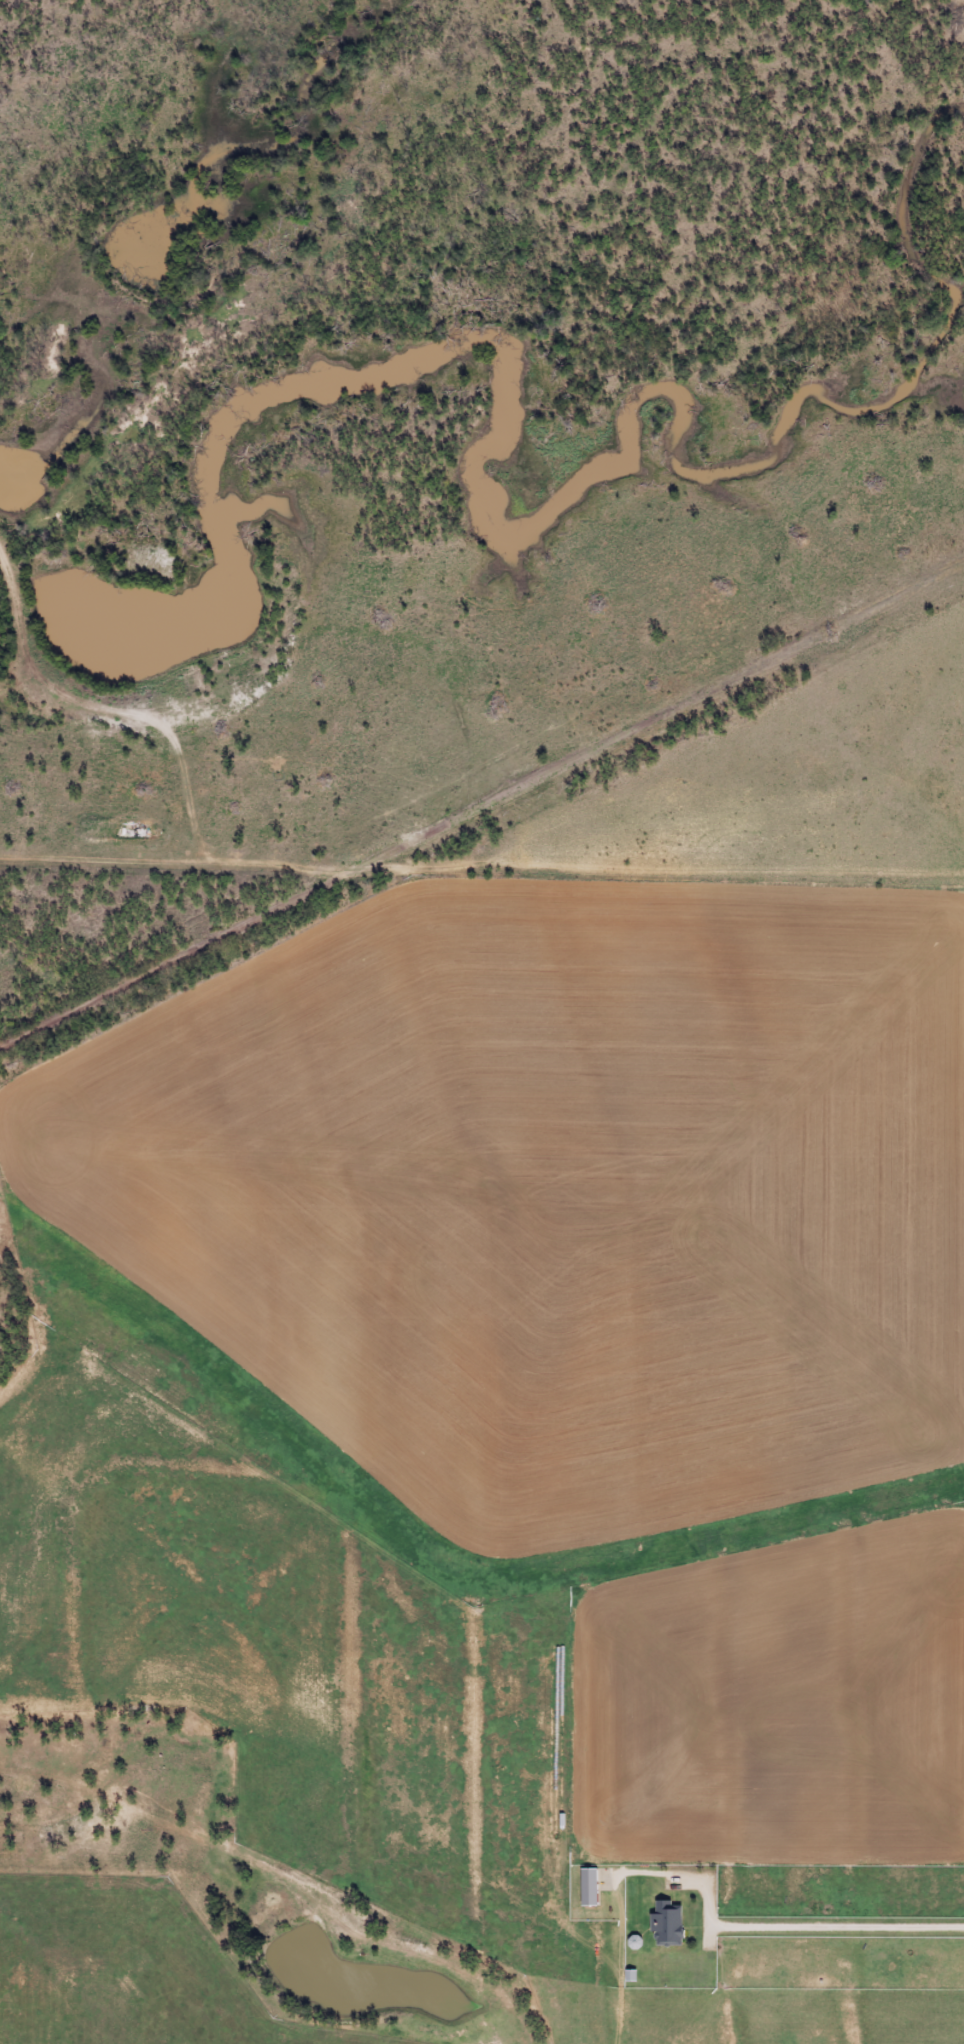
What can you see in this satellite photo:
railway: (482, 807)
building: (664, 1923)

